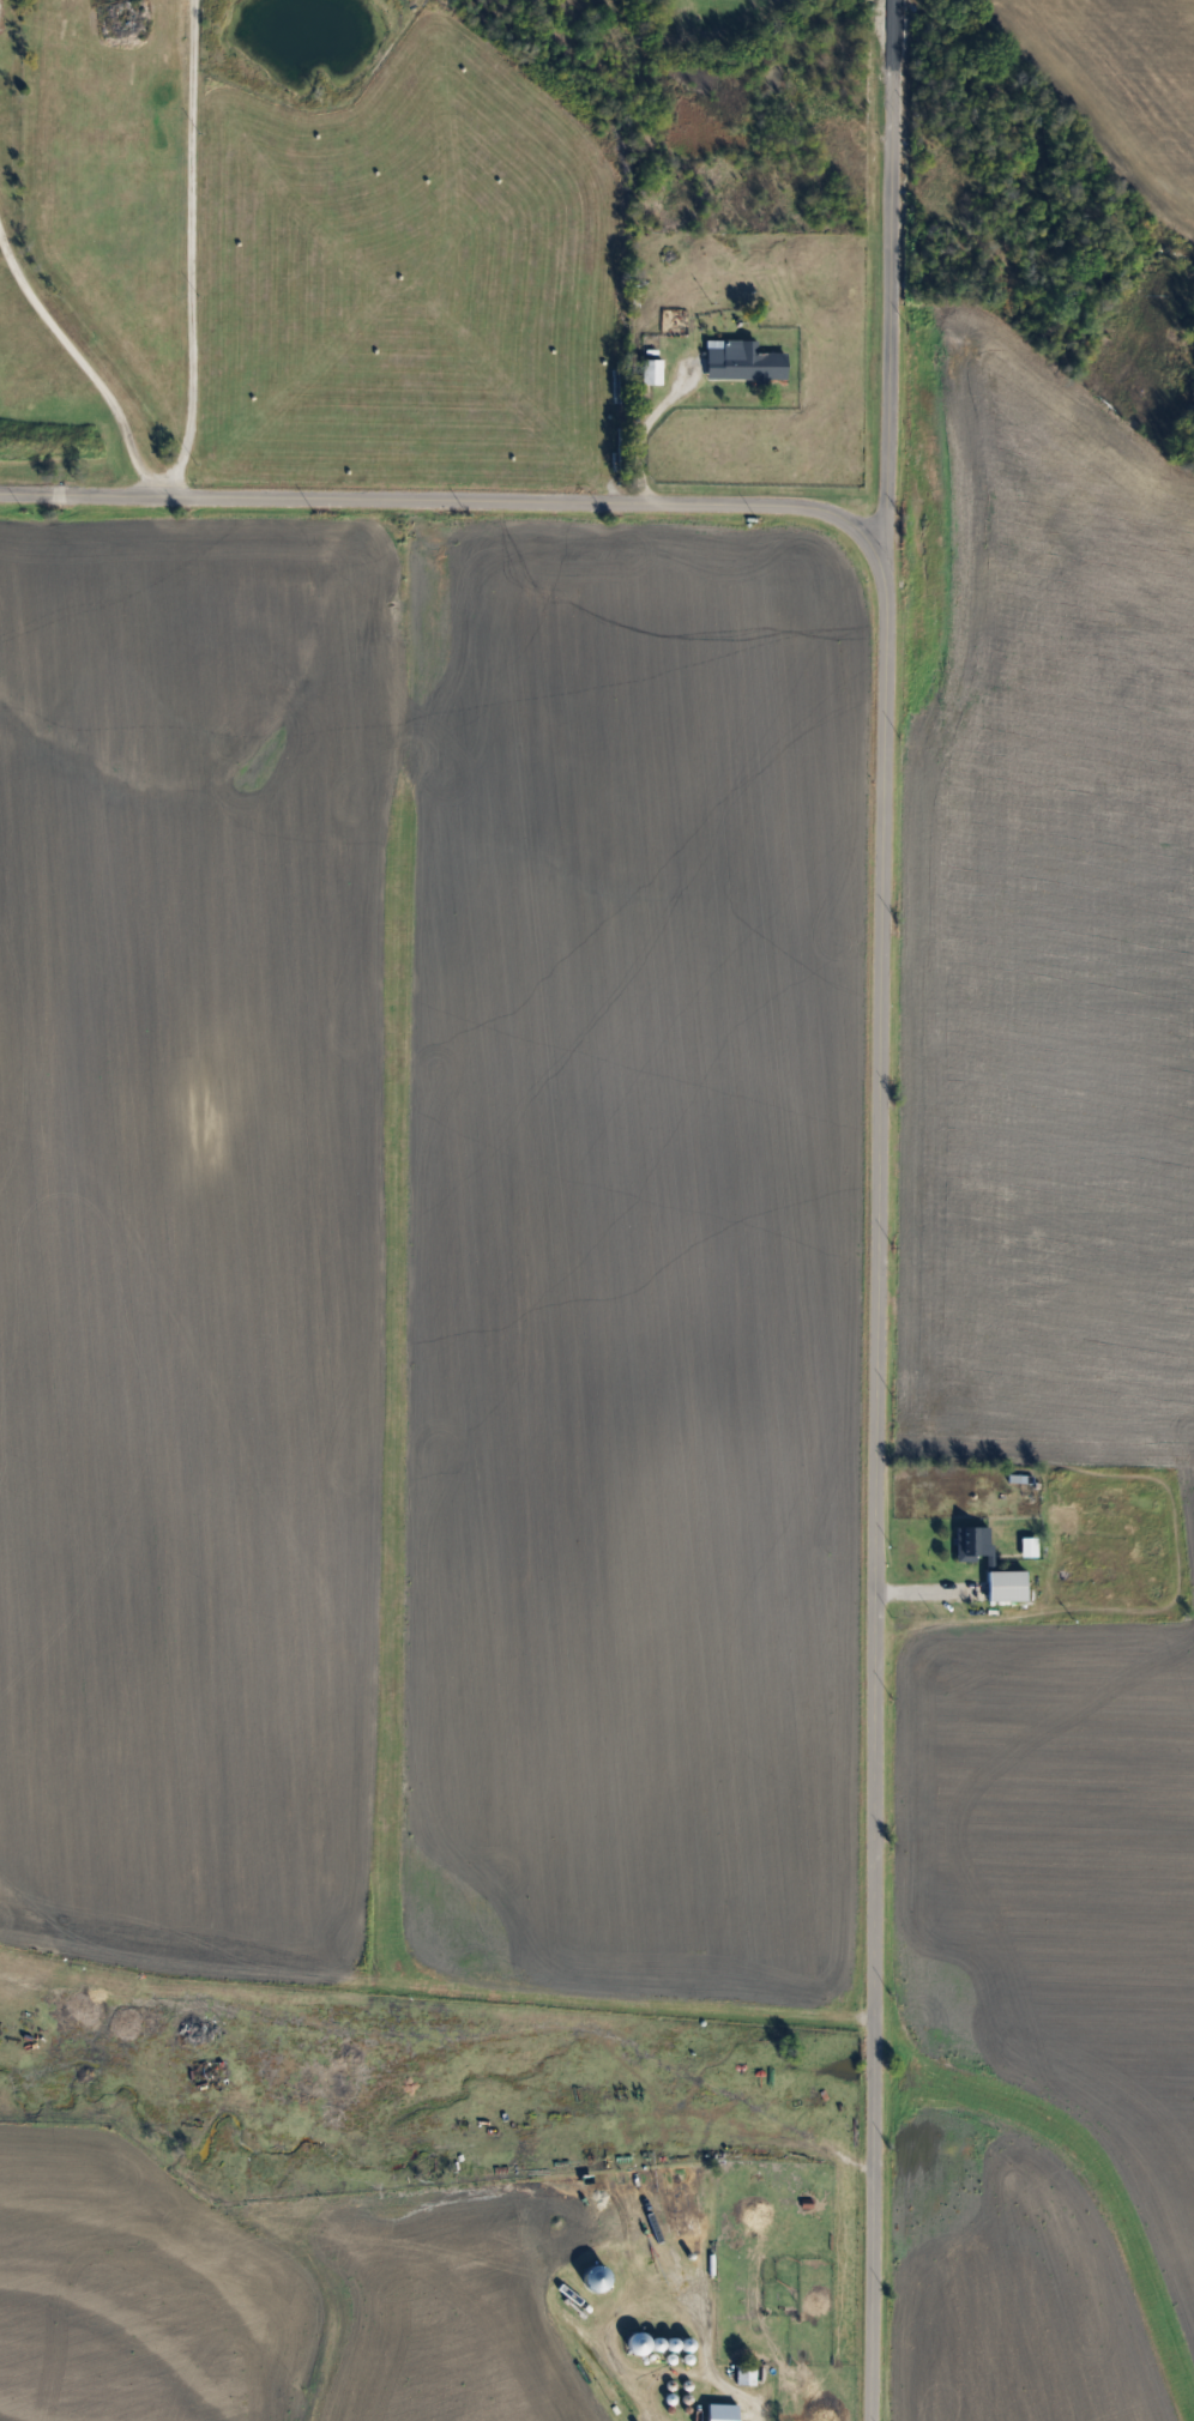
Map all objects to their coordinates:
road: (191, 254)
road: (900, 259)
road: (79, 362)
building: (741, 362)
building: (649, 372)
road: (643, 430)
road: (452, 500)
road: (887, 1469)
building: (971, 1542)
building: (1025, 1547)
building: (1085, 1575)
building: (1003, 1584)
building: (778, 2264)
building: (742, 2374)
road: (716, 2381)
building: (718, 2413)

